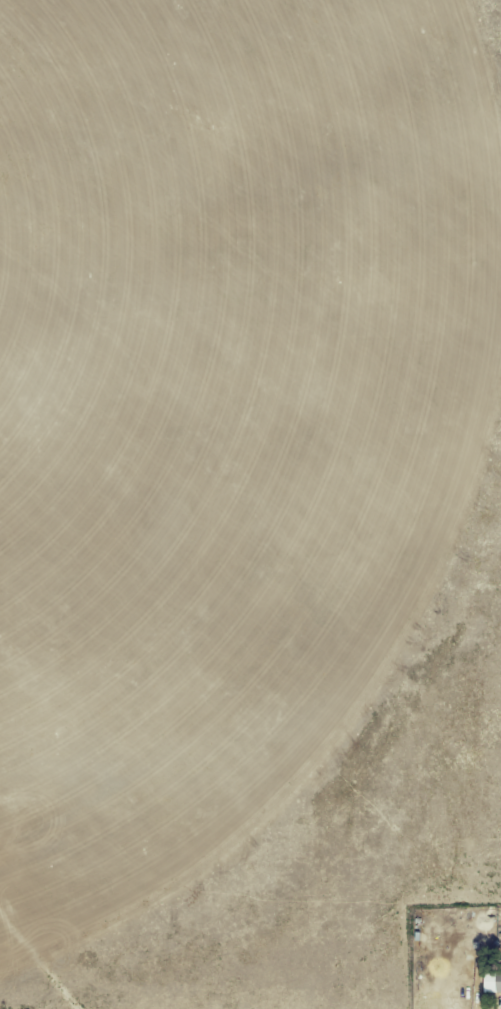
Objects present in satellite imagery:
building: (490, 982)

